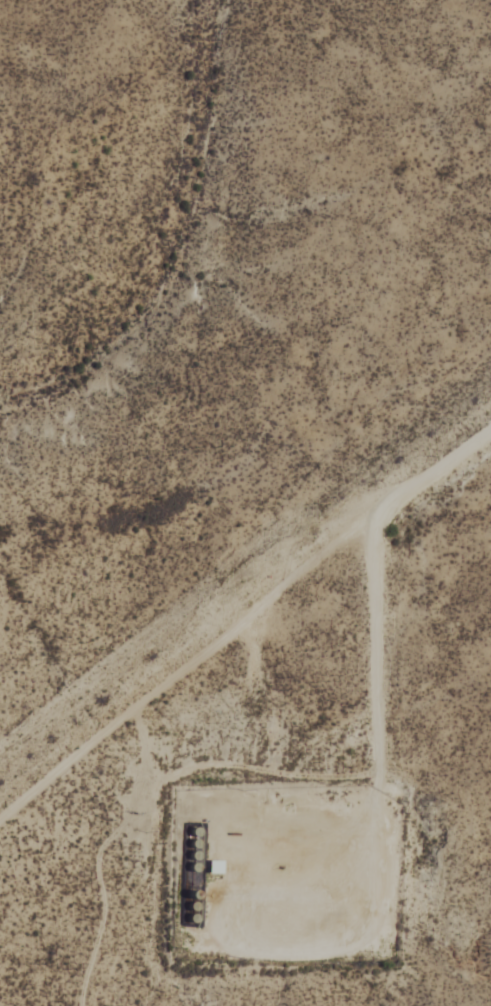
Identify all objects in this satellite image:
road: (307, 560)
road: (377, 648)
road: (144, 775)

